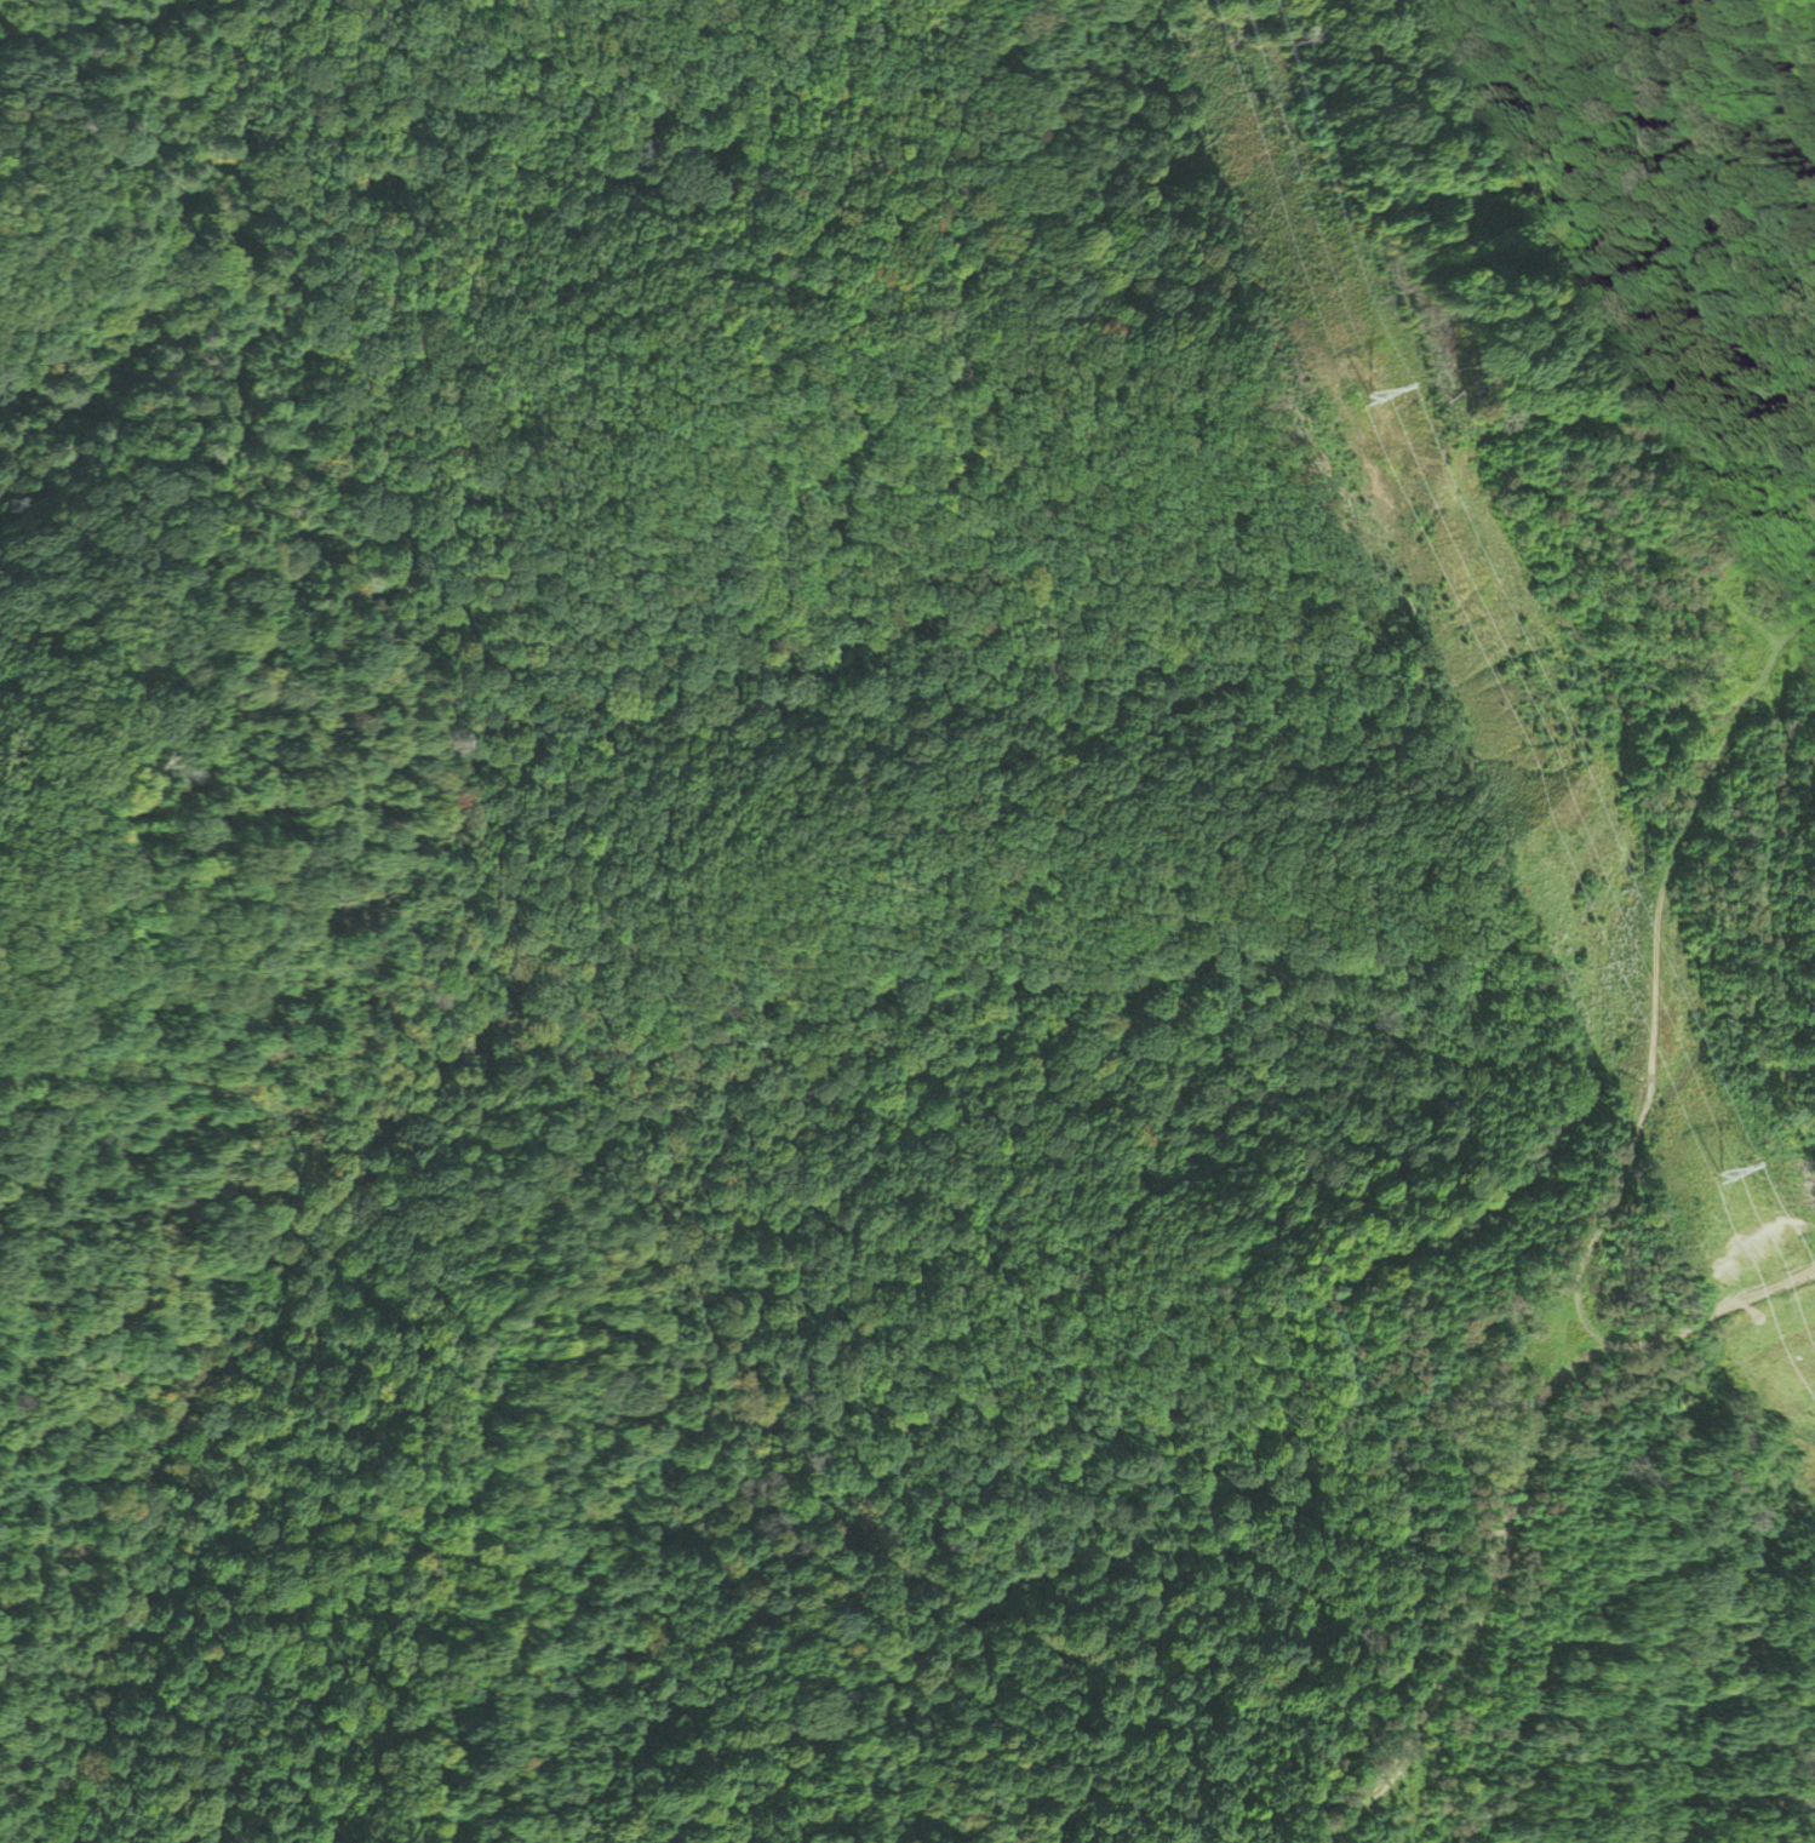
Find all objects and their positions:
power tower: (1369, 396)
power tower: (1727, 1175)

